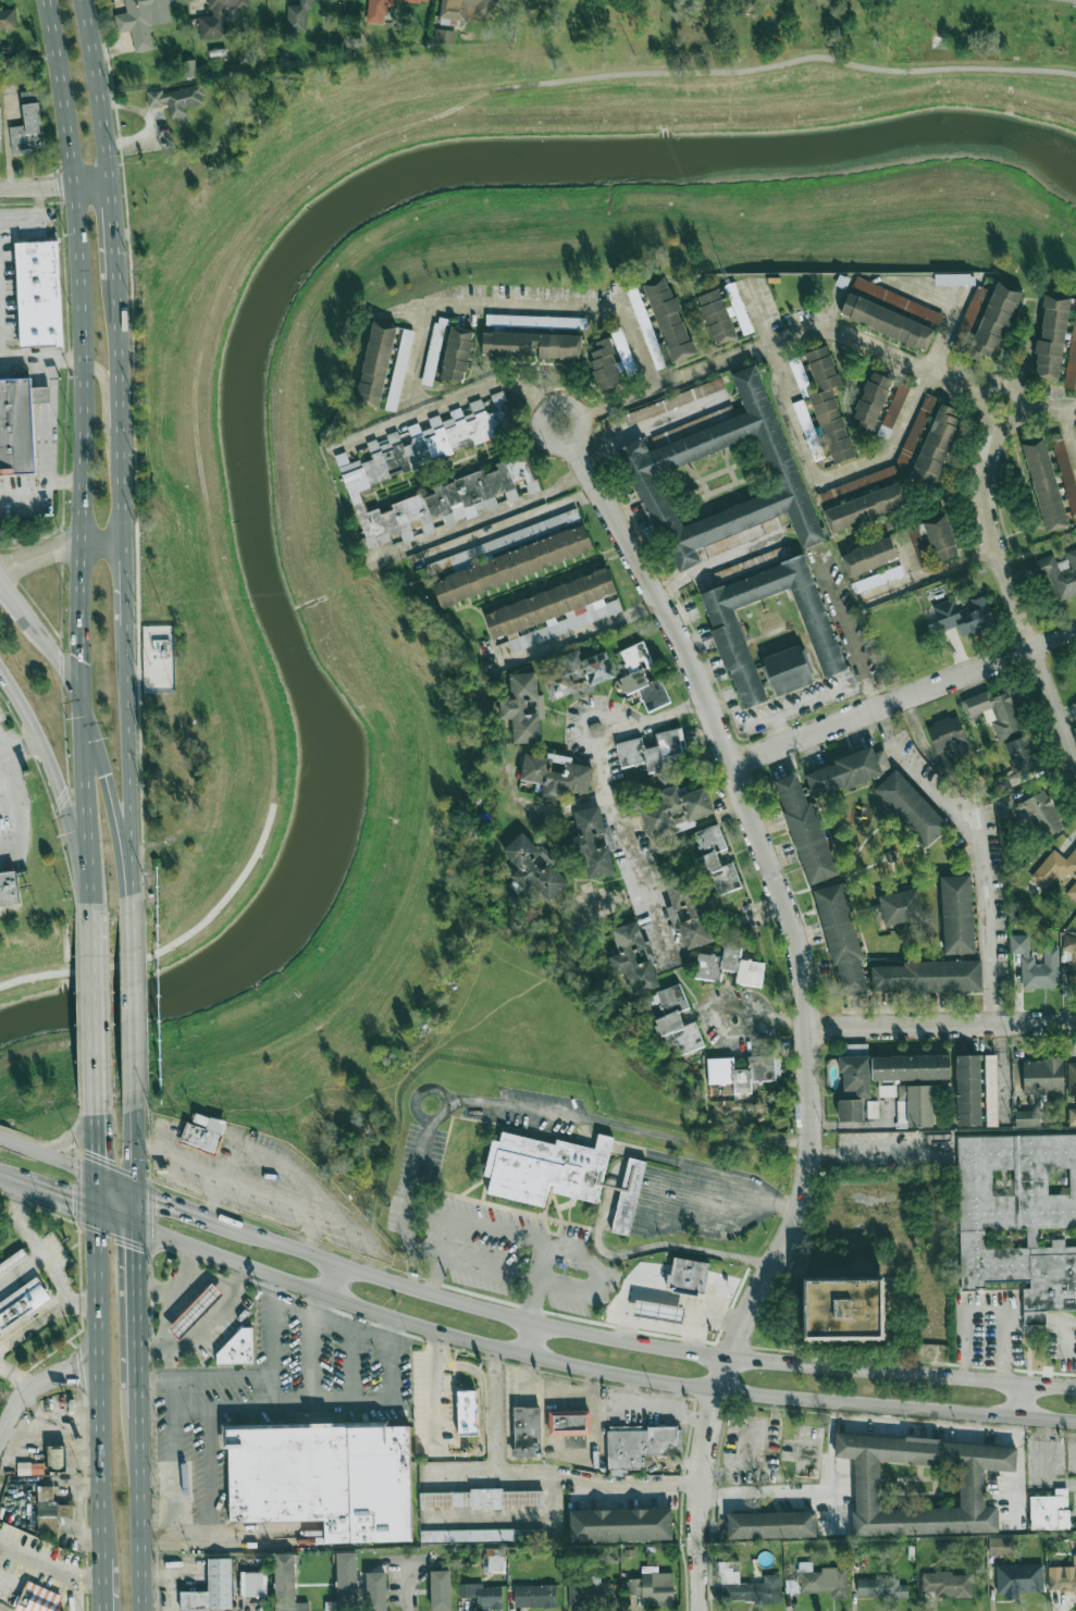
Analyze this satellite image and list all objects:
road: (1071, 0)
building: (385, 9)
building: (469, 9)
building: (299, 16)
building: (218, 17)
building: (8, 18)
building: (143, 21)
building: (444, 36)
building: (0, 40)
park: (780, 40)
building: (189, 69)
road: (98, 91)
building: (28, 97)
building: (176, 100)
building: (27, 131)
building: (0, 139)
road: (55, 187)
road: (136, 189)
road: (161, 195)
road: (35, 218)
road: (113, 223)
road: (169, 223)
building: (954, 278)
building: (38, 293)
road: (932, 296)
road: (553, 305)
building: (738, 309)
building: (890, 313)
building: (716, 317)
building: (669, 320)
building: (535, 321)
building: (993, 321)
road: (819, 327)
building: (646, 329)
building: (1051, 337)
river: (255, 339)
building: (531, 345)
road: (419, 347)
road: (81, 349)
building: (433, 352)
building: (623, 352)
building: (457, 354)
road: (40, 358)
building: (1072, 360)
building: (375, 364)
building: (605, 364)
building: (399, 370)
building: (800, 375)
road: (1000, 381)
road: (109, 395)
building: (871, 400)
road: (619, 401)
building: (673, 401)
road: (446, 404)
road: (1049, 409)
building: (892, 410)
building: (825, 412)
road: (582, 416)
building: (15, 424)
road: (650, 426)
building: (915, 431)
road: (1069, 432)
building: (668, 436)
building: (936, 446)
road: (46, 450)
road: (873, 462)
building: (368, 472)
building: (1066, 473)
building: (722, 479)
road: (64, 482)
building: (858, 484)
building: (1044, 484)
building: (865, 507)
road: (510, 524)
road: (991, 537)
road: (60, 538)
building: (932, 540)
road: (58, 554)
road: (903, 555)
building: (868, 556)
building: (509, 557)
road: (716, 560)
road: (123, 566)
road: (929, 573)
building: (1061, 574)
building: (877, 579)
building: (552, 611)
road: (27, 614)
building: (964, 616)
road: (851, 633)
road: (573, 634)
building: (729, 637)
traffic signals: (84, 656)
building: (787, 670)
building: (574, 673)
road: (70, 677)
building: (642, 677)
road: (904, 697)
road: (809, 701)
road: (1054, 705)
building: (523, 707)
building: (997, 711)
road: (17, 743)
building: (947, 744)
road: (1, 748)
building: (651, 751)
building: (1022, 755)
building: (846, 771)
traffic signals: (106, 772)
building: (555, 774)
road: (58, 785)
road: (108, 785)
building: (1003, 785)
traffic signals: (60, 790)
road: (603, 792)
parking lot: (12, 801)
road: (13, 807)
road: (89, 807)
building: (911, 807)
road: (7, 809)
building: (672, 810)
building: (1034, 811)
building: (804, 828)
building: (593, 842)
road: (979, 847)
building: (715, 860)
building: (535, 867)
building: (1056, 870)
road: (55, 883)
building: (14, 892)
building: (901, 906)
building: (692, 914)
building: (956, 915)
road: (24, 918)
building: (841, 939)
building: (1071, 956)
building: (634, 958)
building: (1036, 964)
building: (730, 966)
building: (926, 976)
road: (129, 986)
road: (96, 1012)
road: (807, 1013)
building: (675, 1019)
road: (771, 1020)
road: (942, 1024)
building: (910, 1067)
building: (742, 1073)
building: (855, 1075)
building: (1072, 1076)
building: (1042, 1077)
building: (887, 1090)
building: (968, 1090)
building: (991, 1090)
building: (914, 1105)
road: (514, 1106)
building: (850, 1110)
building: (873, 1110)
building: (1072, 1117)
building: (1027, 1118)
building: (202, 1132)
road: (133, 1135)
road: (71, 1139)
road: (98, 1143)
traffic signals: (98, 1151)
road: (48, 1155)
road: (197, 1161)
building: (545, 1168)
road: (10, 1179)
road: (134, 1179)
road: (115, 1182)
road: (98, 1193)
building: (628, 1195)
road: (59, 1198)
traffic signals: (156, 1198)
road: (281, 1199)
traffic signals: (71, 1202)
road: (172, 1203)
road: (134, 1207)
road: (115, 1218)
building: (1019, 1218)
road: (360, 1231)
road: (517, 1234)
traffic signals: (134, 1247)
road: (39, 1257)
road: (487, 1267)
road: (20, 1271)
building: (688, 1276)
road: (212, 1277)
road: (329, 1277)
road: (174, 1288)
road: (274, 1290)
building: (21, 1301)
road: (317, 1304)
road: (134, 1309)
building: (844, 1309)
building: (658, 1310)
building: (196, 1312)
road: (986, 1314)
road: (212, 1315)
road: (165, 1317)
road: (332, 1322)
road: (36, 1324)
road: (394, 1331)
road: (534, 1340)
road: (634, 1343)
road: (165, 1344)
building: (235, 1348)
road: (271, 1352)
road: (310, 1360)
road: (351, 1366)
road: (594, 1371)
road: (392, 1374)
road: (15, 1375)
road: (203, 1377)
road: (34, 1384)
road: (98, 1385)
road: (432, 1392)
road: (1022, 1402)
road: (282, 1405)
road: (495, 1410)
building: (467, 1413)
road: (481, 1413)
building: (569, 1423)
road: (930, 1427)
building: (527, 1433)
building: (641, 1446)
building: (57, 1455)
road: (173, 1459)
road: (1021, 1459)
road: (834, 1469)
road: (209, 1473)
road: (561, 1475)
building: (324, 1478)
building: (924, 1484)
road: (767, 1496)
building: (481, 1499)
road: (139, 1500)
road: (551, 1505)
building: (1050, 1511)
road: (486, 1520)
building: (620, 1524)
building: (771, 1525)
building: (481, 1536)
road: (228, 1537)
building: (1001, 1546)
building: (494, 1560)
road: (51, 1565)
building: (1018, 1579)
building: (823, 1581)
building: (1063, 1581)
building: (345, 1583)
road: (101, 1584)
building: (251, 1584)
building: (286, 1584)
building: (947, 1584)
building: (654, 1586)
building: (746, 1586)
building: (880, 1587)
building: (211, 1589)
building: (440, 1590)
building: (375, 1591)
building: (590, 1594)
building: (482, 1595)
building: (534, 1596)
building: (40, 1597)

